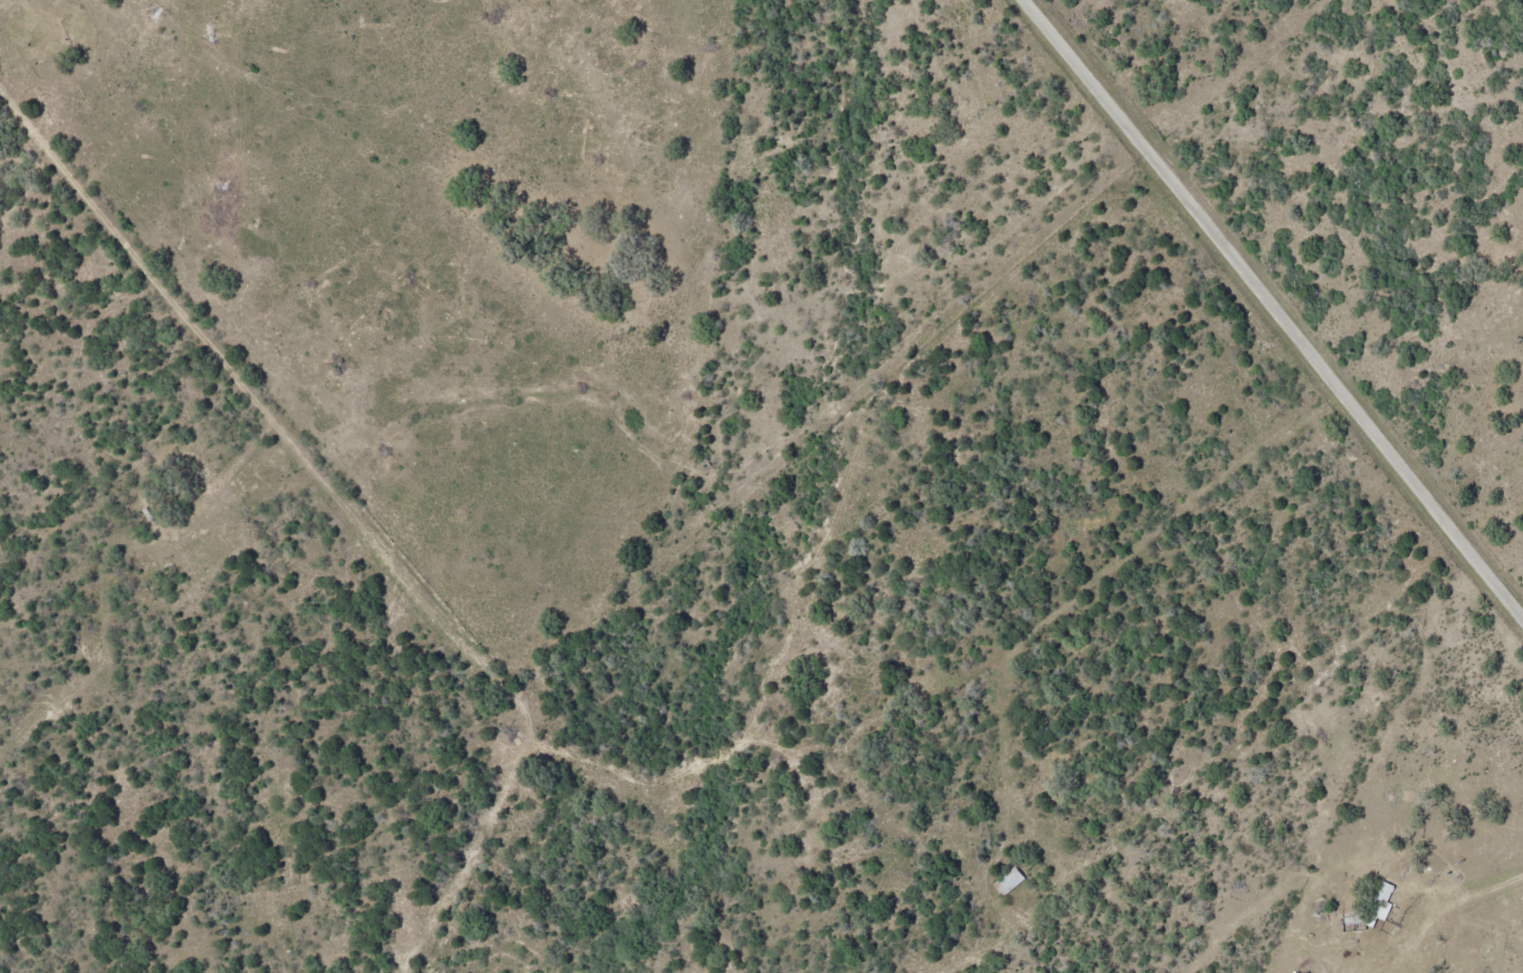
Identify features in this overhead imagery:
road: (1274, 307)
building: (1011, 880)
building: (1384, 898)
building: (1345, 923)

